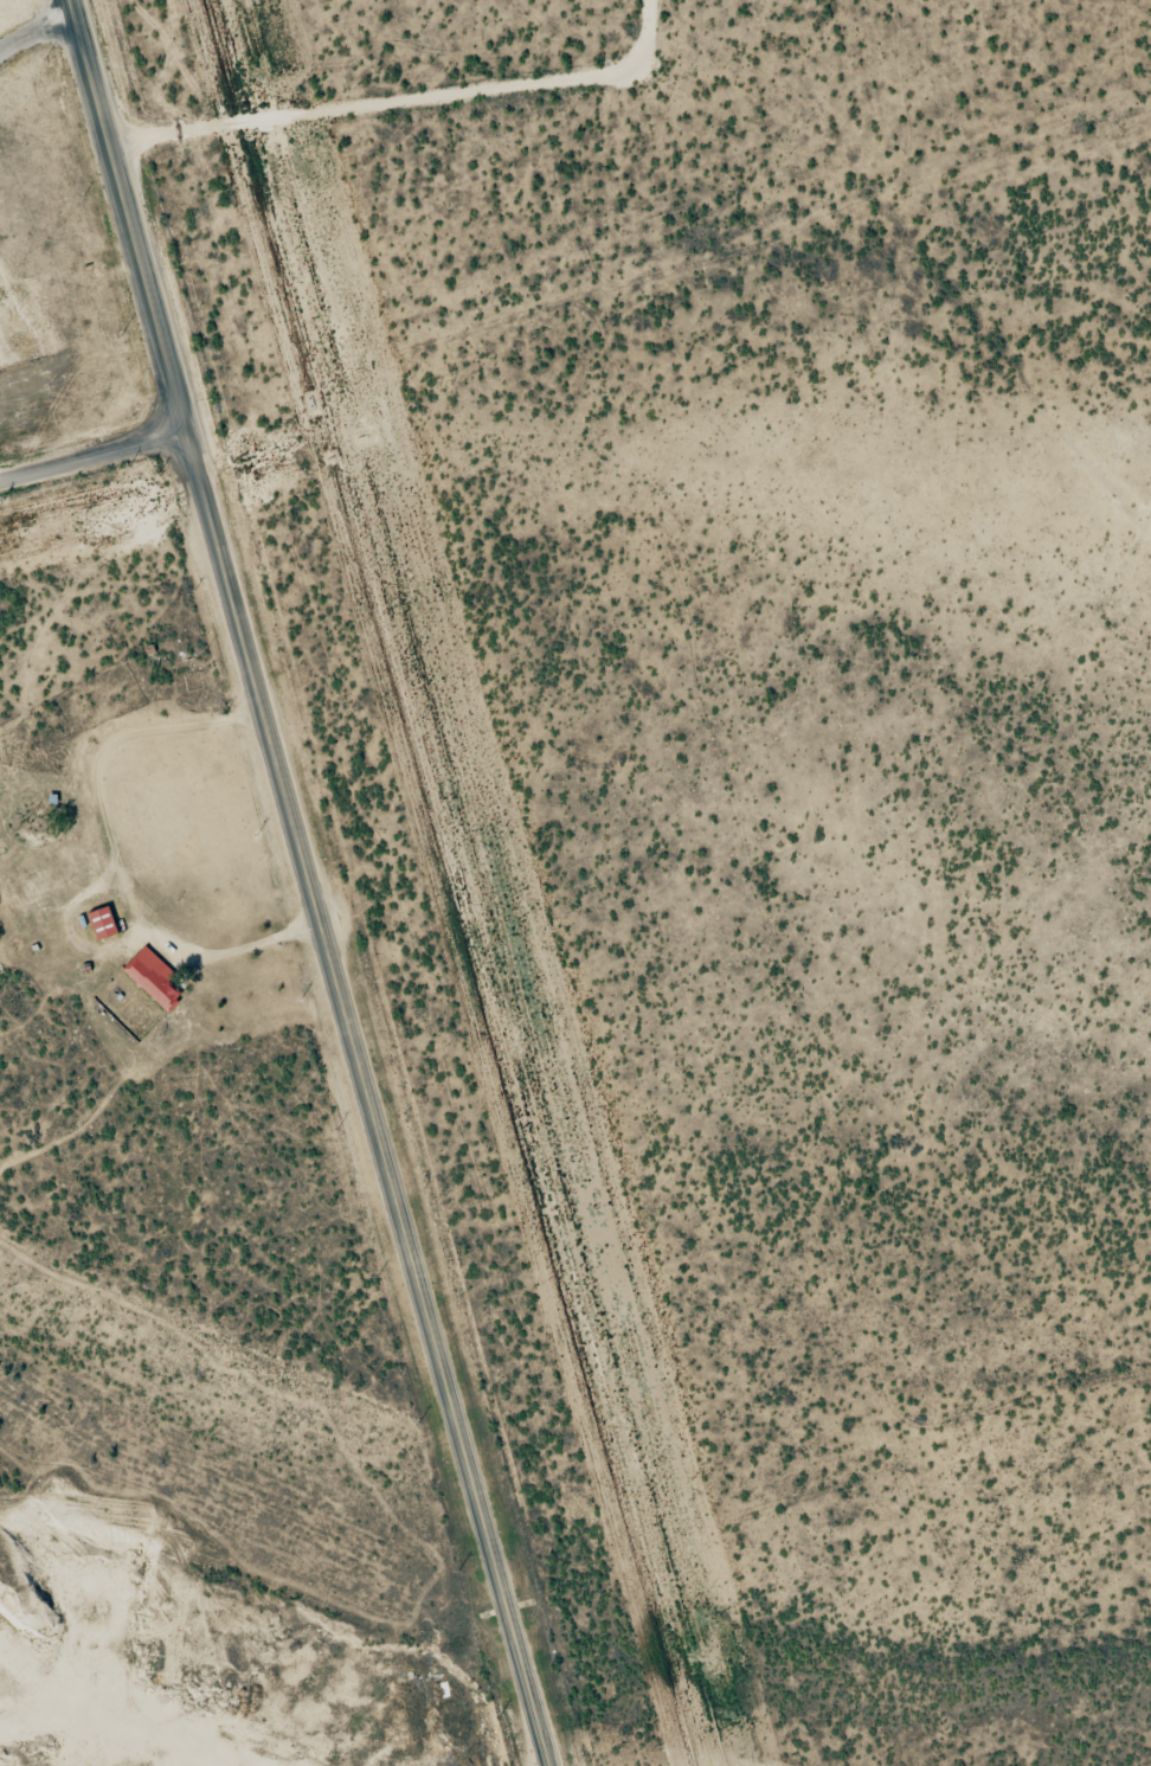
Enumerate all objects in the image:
road: (36, 31)
road: (92, 450)
road: (112, 852)
road: (309, 882)
river: (544, 1635)

